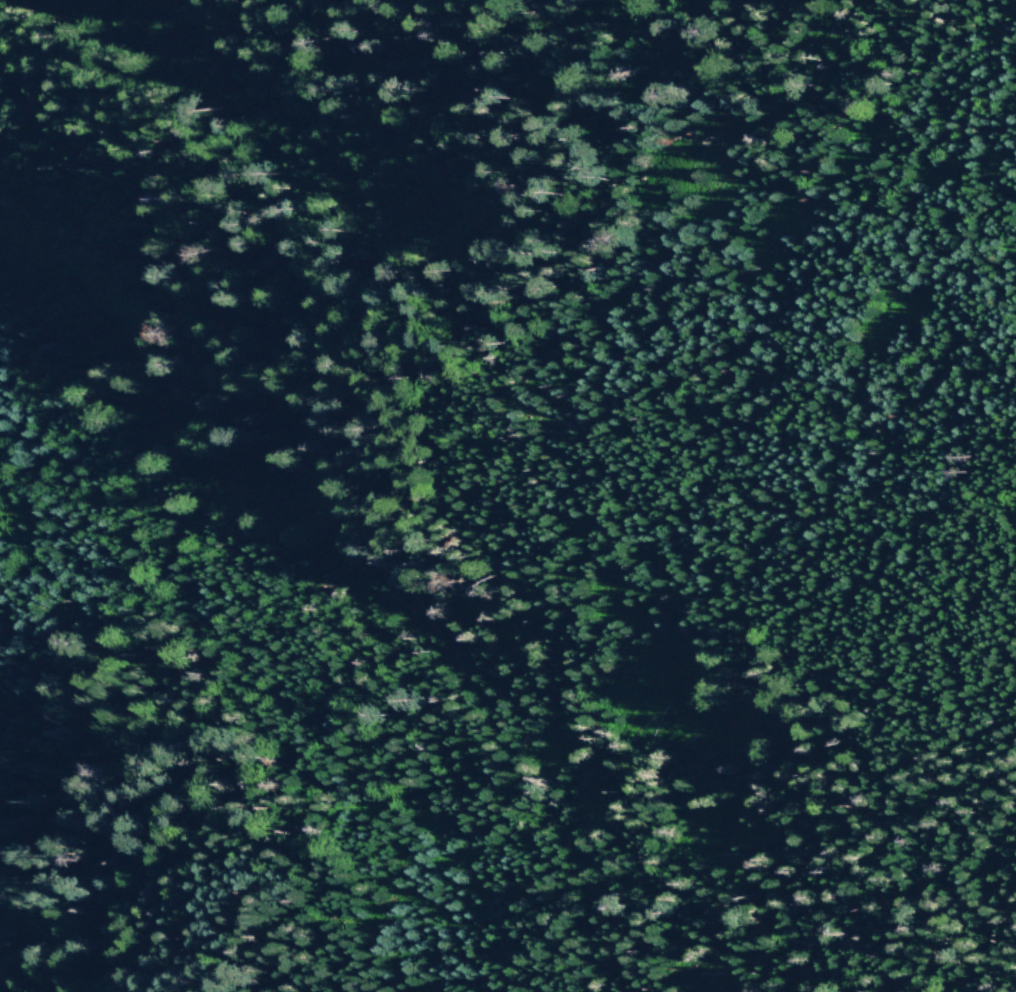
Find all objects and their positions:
road: (1015, 533)

